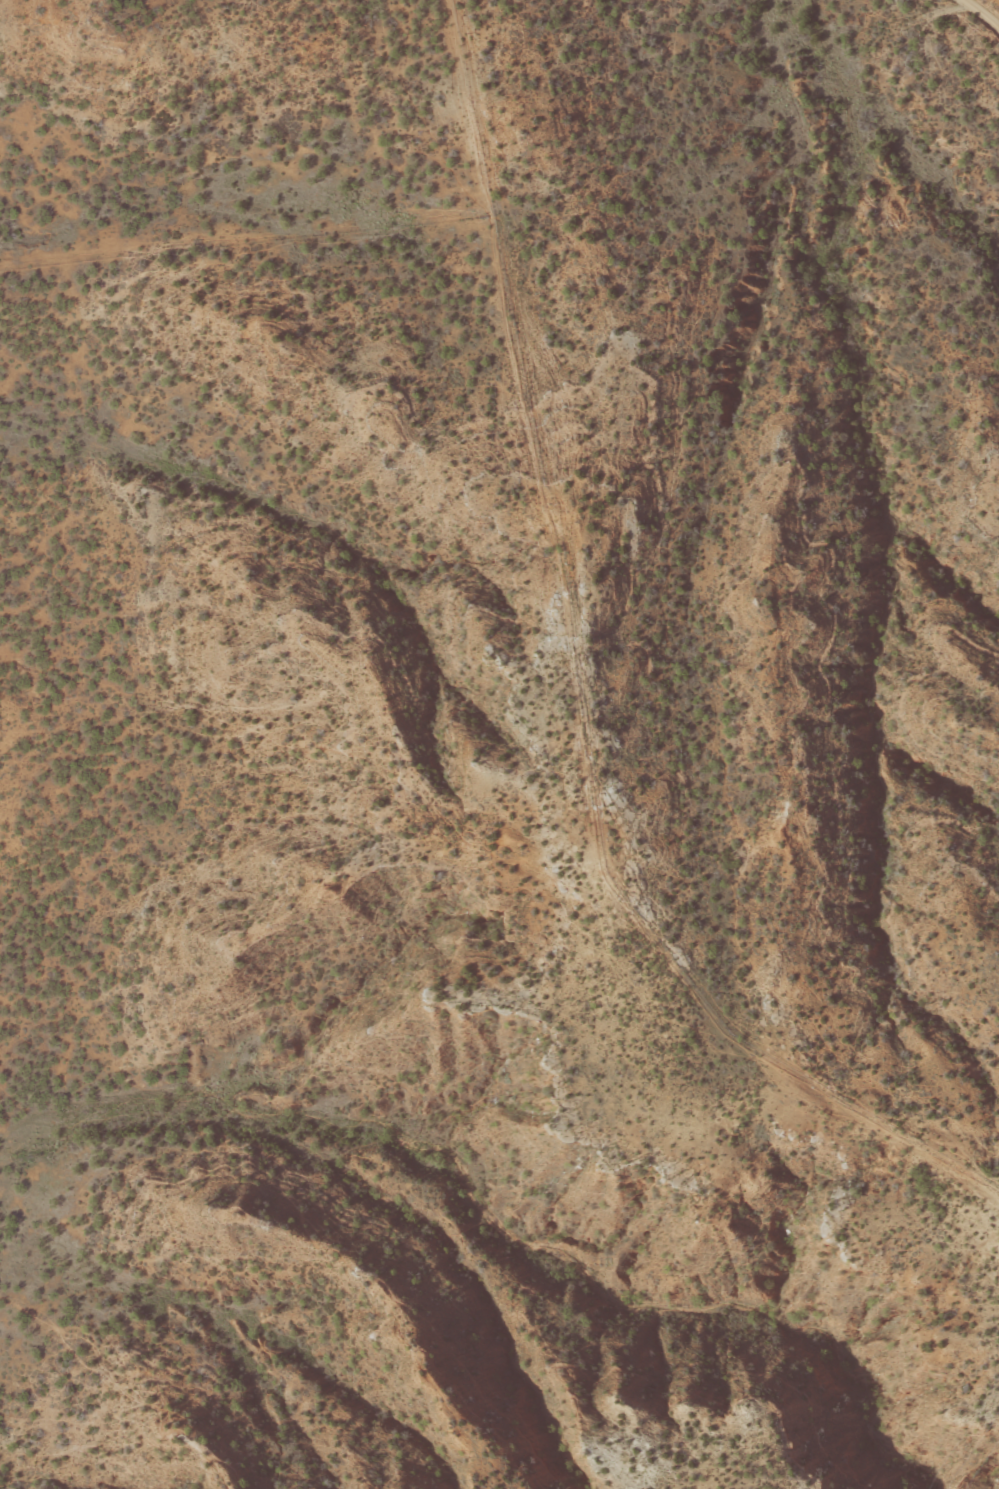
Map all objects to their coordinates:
road: (991, 11)

